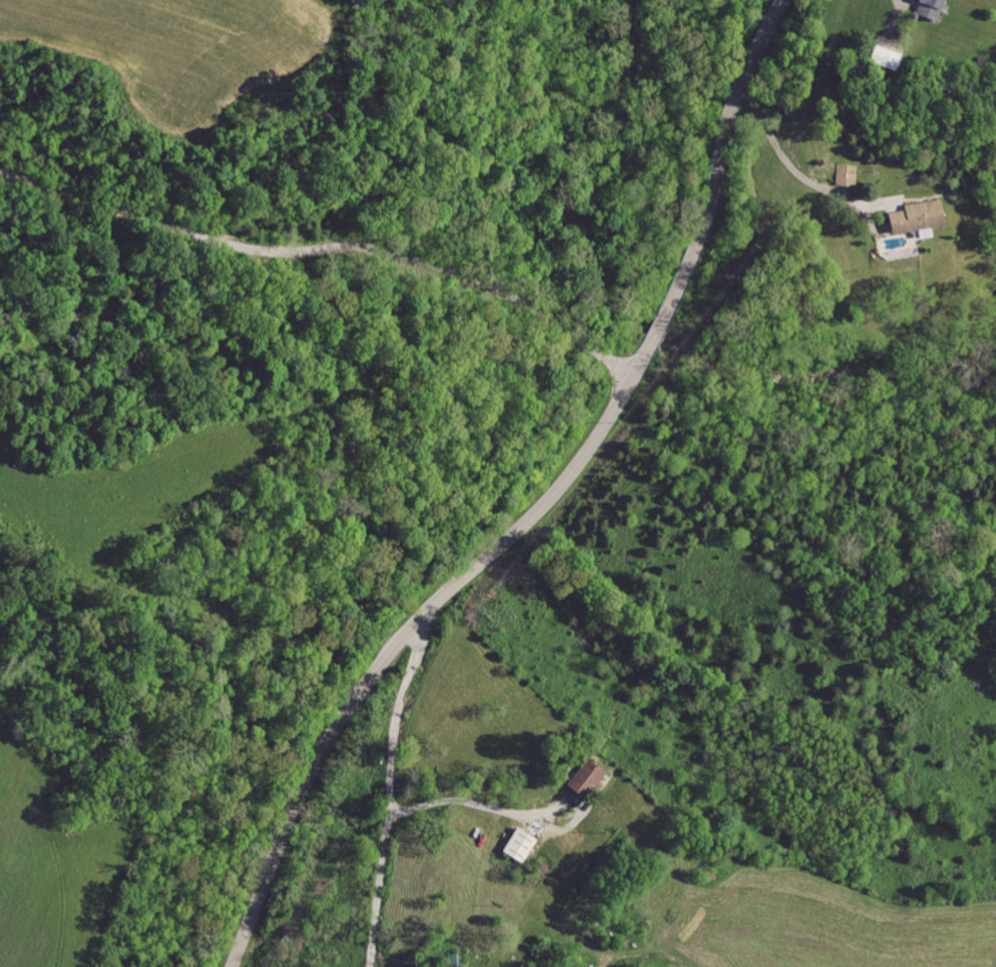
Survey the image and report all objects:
building: (929, 8)
road: (781, 151)
building: (847, 176)
building: (916, 217)
road: (329, 242)
road: (544, 507)
building: (584, 780)
road: (393, 791)
road: (468, 793)
building: (520, 846)

